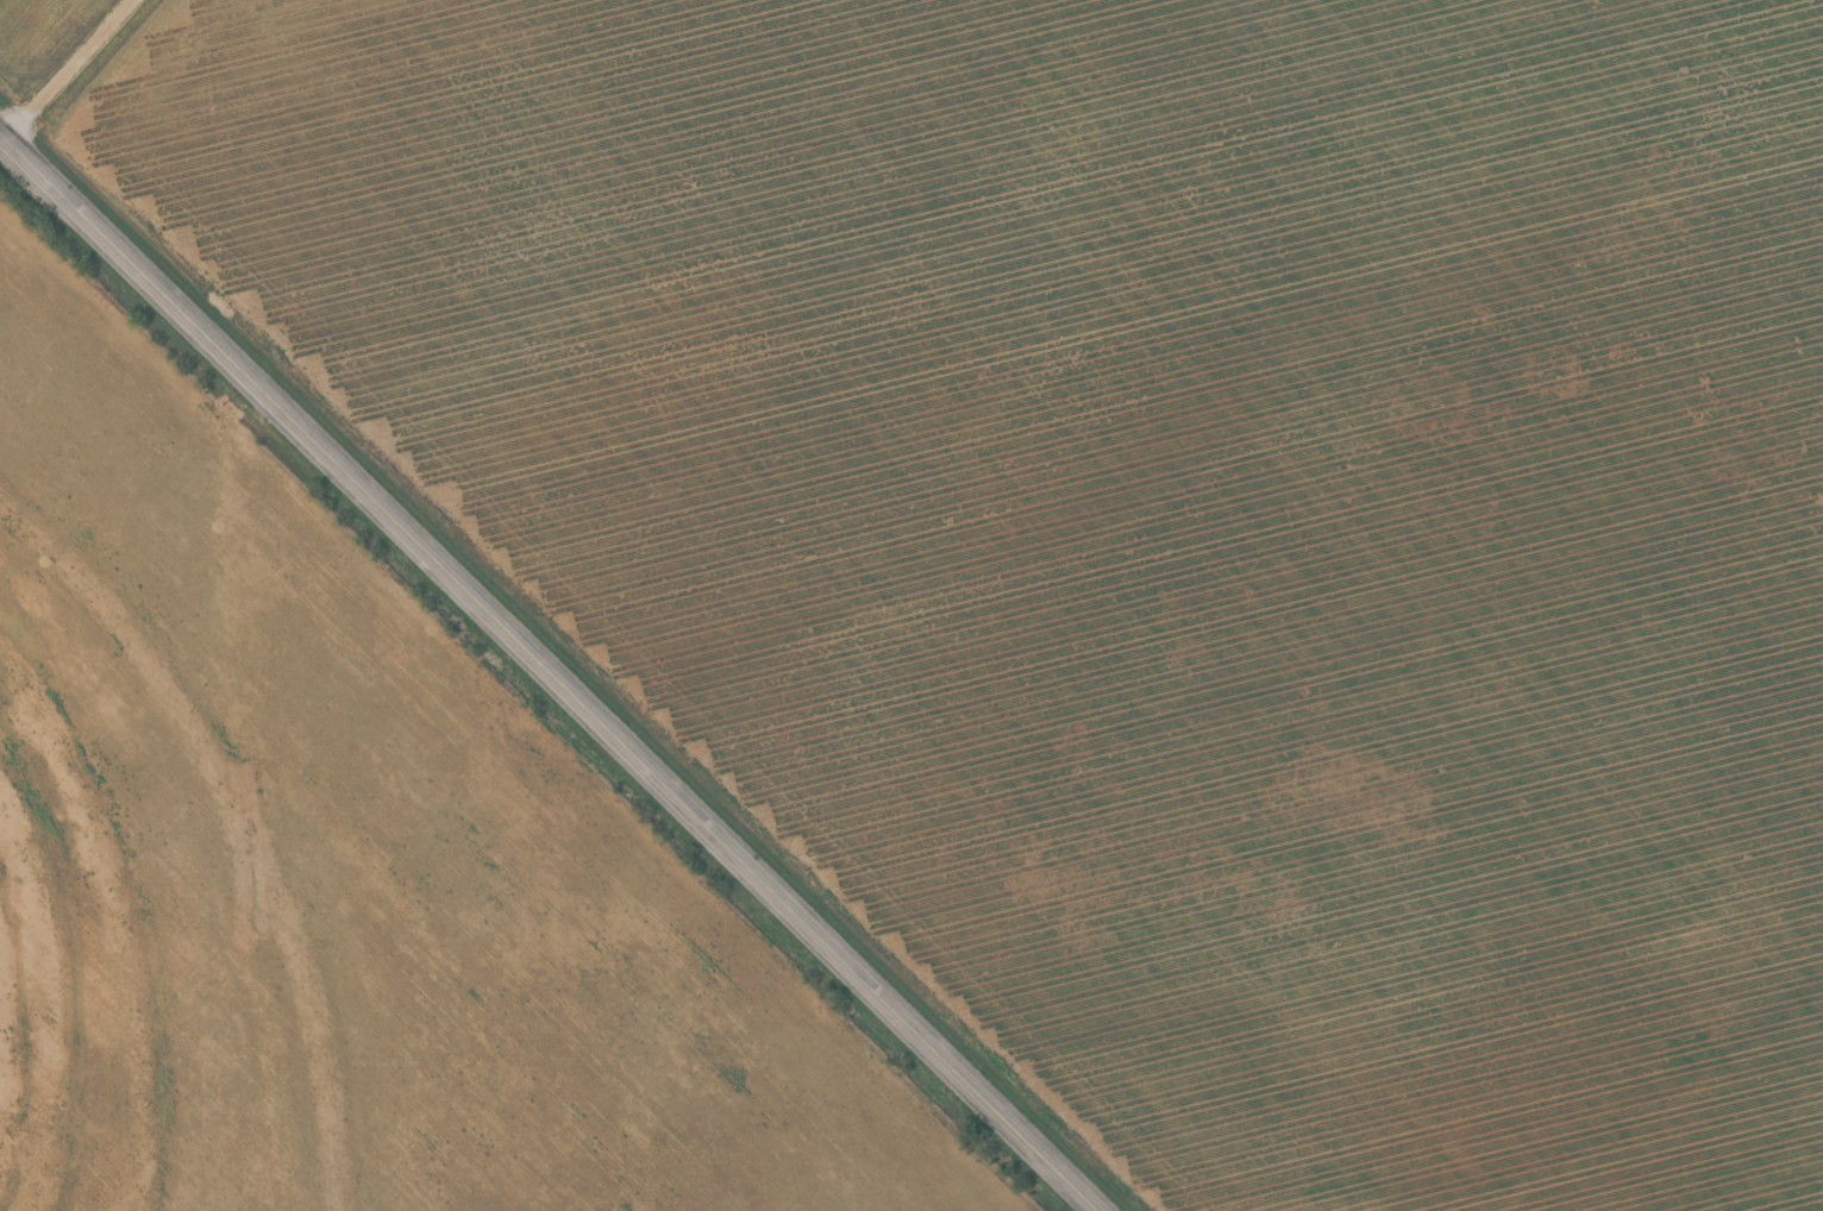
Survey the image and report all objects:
road: (550, 674)

